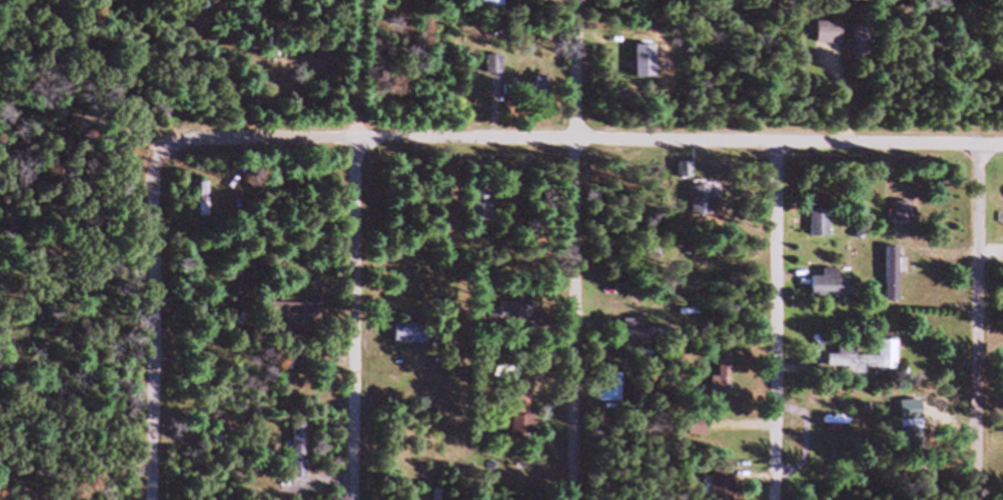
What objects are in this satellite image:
building: (433, 4)
building: (495, 7)
building: (831, 40)
building: (865, 49)
road: (576, 133)
building: (685, 177)
building: (205, 205)
building: (703, 209)
building: (483, 210)
building: (907, 218)
building: (823, 229)
road: (356, 250)
road: (580, 250)
building: (895, 287)
building: (834, 292)
building: (295, 316)
building: (517, 316)
road: (982, 319)
road: (776, 320)
road: (155, 326)
building: (276, 335)
building: (634, 337)
building: (407, 340)
building: (867, 365)
building: (725, 381)
building: (612, 393)
building: (521, 425)
building: (696, 432)
building: (301, 457)
building: (727, 485)

